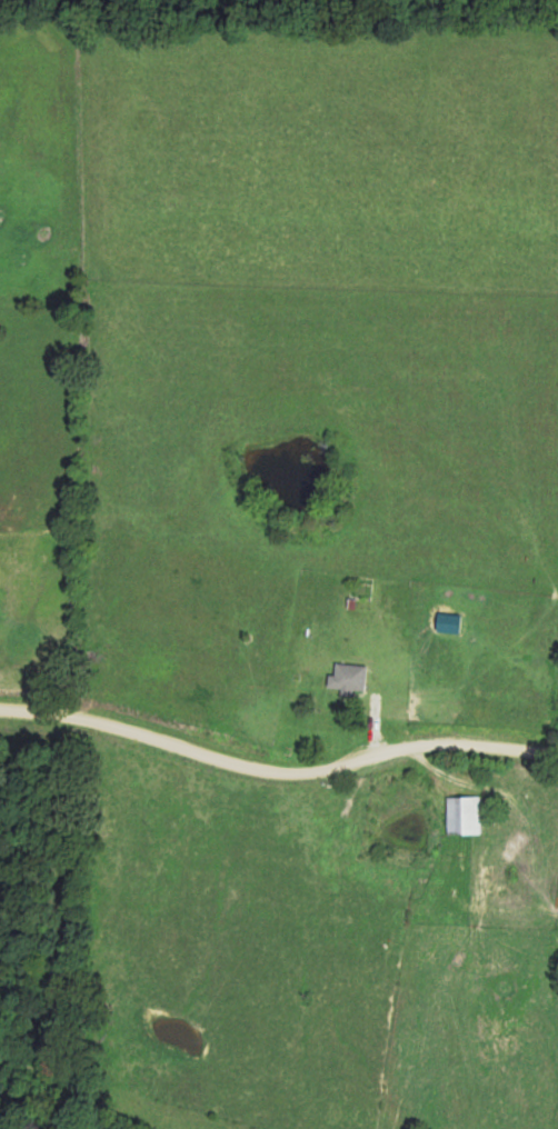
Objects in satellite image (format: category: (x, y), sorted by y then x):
building: (362, 592)
building: (351, 678)
road: (277, 769)
building: (466, 816)

